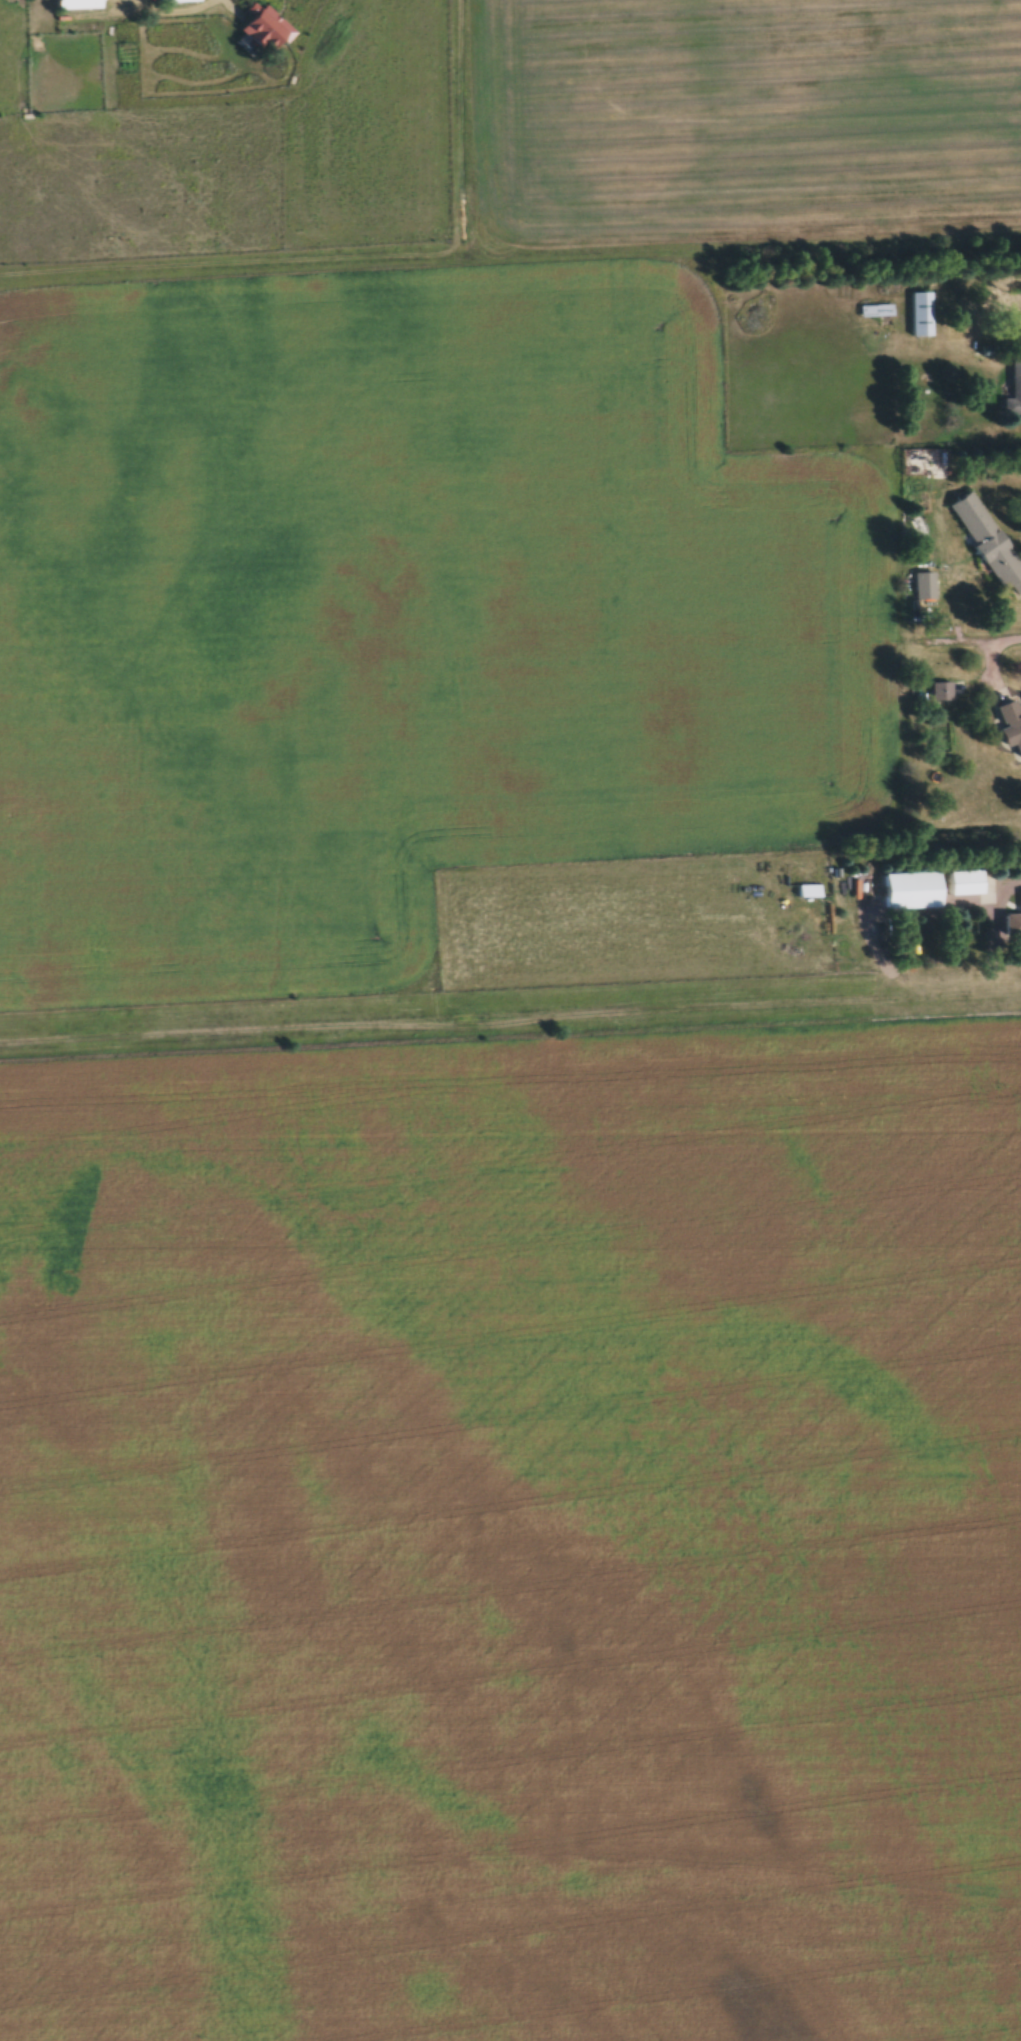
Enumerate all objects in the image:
building: (172, 1)
building: (74, 5)
building: (262, 30)
building: (876, 312)
building: (920, 316)
building: (1013, 389)
building: (985, 543)
building: (922, 587)
road: (1000, 638)
building: (958, 688)
building: (940, 692)
building: (1009, 726)
building: (962, 883)
building: (909, 891)
building: (1011, 926)

